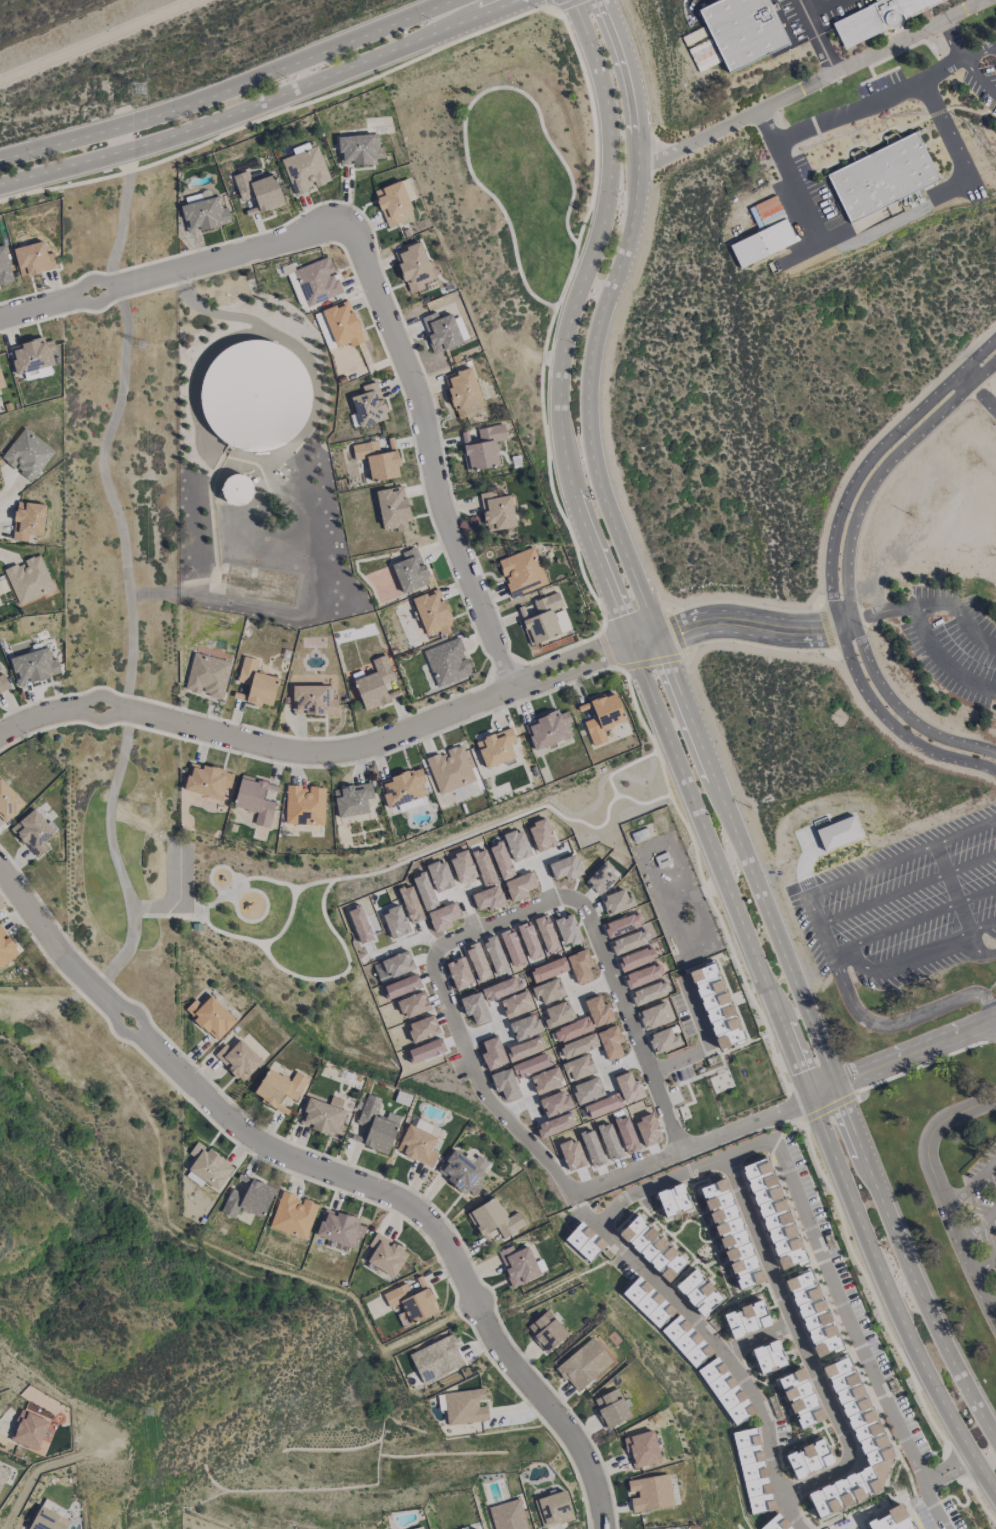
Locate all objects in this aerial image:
road: (560, 5)
building: (879, 18)
building: (742, 30)
road: (815, 37)
road: (95, 39)
road: (956, 40)
road: (981, 52)
building: (703, 56)
road: (982, 75)
road: (814, 84)
parking lot: (985, 85)
road: (230, 88)
road: (259, 102)
road: (875, 104)
road: (948, 129)
building: (359, 149)
building: (305, 170)
building: (884, 176)
building: (407, 189)
park: (503, 189)
building: (259, 190)
building: (392, 202)
building: (204, 214)
road: (832, 240)
building: (762, 242)
building: (34, 259)
building: (413, 266)
road: (176, 267)
building: (317, 281)
building: (294, 286)
building: (342, 324)
building: (441, 331)
building: (32, 355)
building: (1, 381)
road: (977, 391)
building: (463, 392)
building: (254, 395)
storage tank: (254, 395)
building: (369, 405)
building: (483, 447)
building: (27, 453)
road: (432, 455)
building: (377, 460)
road: (300, 487)
building: (237, 488)
building: (393, 508)
building: (497, 510)
building: (28, 520)
road: (626, 553)
road: (599, 559)
road: (831, 564)
road: (845, 567)
building: (410, 571)
building: (522, 571)
road: (131, 575)
building: (29, 579)
building: (432, 612)
road: (878, 612)
building: (545, 618)
road: (919, 619)
road: (735, 623)
parking lot: (953, 642)
building: (447, 661)
building: (34, 666)
building: (207, 675)
building: (3, 683)
building: (256, 683)
building: (377, 684)
building: (313, 699)
building: (603, 717)
building: (548, 729)
building: (496, 748)
road: (320, 751)
building: (450, 769)
building: (207, 780)
building: (402, 787)
building: (255, 799)
building: (352, 799)
building: (8, 801)
building: (304, 804)
road: (965, 830)
building: (33, 831)
building: (837, 832)
road: (852, 876)
building: (601, 877)
road: (906, 889)
road: (170, 891)
road: (976, 894)
road: (956, 901)
building: (616, 902)
parking lot: (906, 908)
road: (510, 915)
park: (259, 917)
building: (623, 924)
road: (892, 927)
road: (983, 928)
building: (629, 941)
building: (6, 948)
road: (994, 956)
road: (912, 957)
building: (636, 958)
road: (844, 964)
building: (580, 966)
building: (549, 969)
building: (643, 975)
building: (548, 991)
building: (650, 992)
building: (716, 1005)
building: (598, 1011)
building: (558, 1014)
building: (654, 1015)
building: (210, 1016)
road: (883, 1025)
building: (572, 1029)
road: (700, 1039)
building: (663, 1040)
building: (610, 1042)
building: (578, 1045)
road: (902, 1056)
building: (238, 1059)
road: (925, 1062)
building: (577, 1067)
building: (279, 1086)
road: (214, 1106)
road: (827, 1107)
building: (324, 1116)
building: (377, 1125)
building: (418, 1143)
building: (208, 1165)
building: (464, 1171)
road: (972, 1181)
road: (942, 1192)
parking lot: (983, 1197)
building: (248, 1199)
building: (672, 1200)
building: (773, 1213)
building: (293, 1215)
building: (494, 1219)
road: (979, 1220)
building: (339, 1228)
building: (731, 1234)
building: (583, 1241)
building: (652, 1247)
building: (386, 1255)
road: (986, 1259)
road: (910, 1261)
building: (518, 1264)
road: (835, 1291)
building: (698, 1292)
road: (666, 1294)
building: (648, 1302)
road: (892, 1302)
building: (411, 1303)
road: (993, 1303)
building: (813, 1313)
building: (746, 1319)
building: (546, 1330)
road: (756, 1338)
building: (686, 1341)
building: (769, 1356)
building: (436, 1358)
road: (808, 1362)
building: (583, 1364)
building: (726, 1390)
building: (801, 1398)
road: (548, 1403)
building: (465, 1406)
building: (611, 1408)
building: (29, 1429)
building: (869, 1438)
building: (642, 1449)
building: (808, 1458)
building: (752, 1469)
road: (947, 1469)
building: (2, 1470)
building: (650, 1492)
road: (934, 1505)
building: (553, 1508)
building: (508, 1515)
building: (890, 1519)
building: (48, 1520)
building: (776, 1523)
building: (422, 1527)
building: (475, 1528)
building: (531, 1528)

